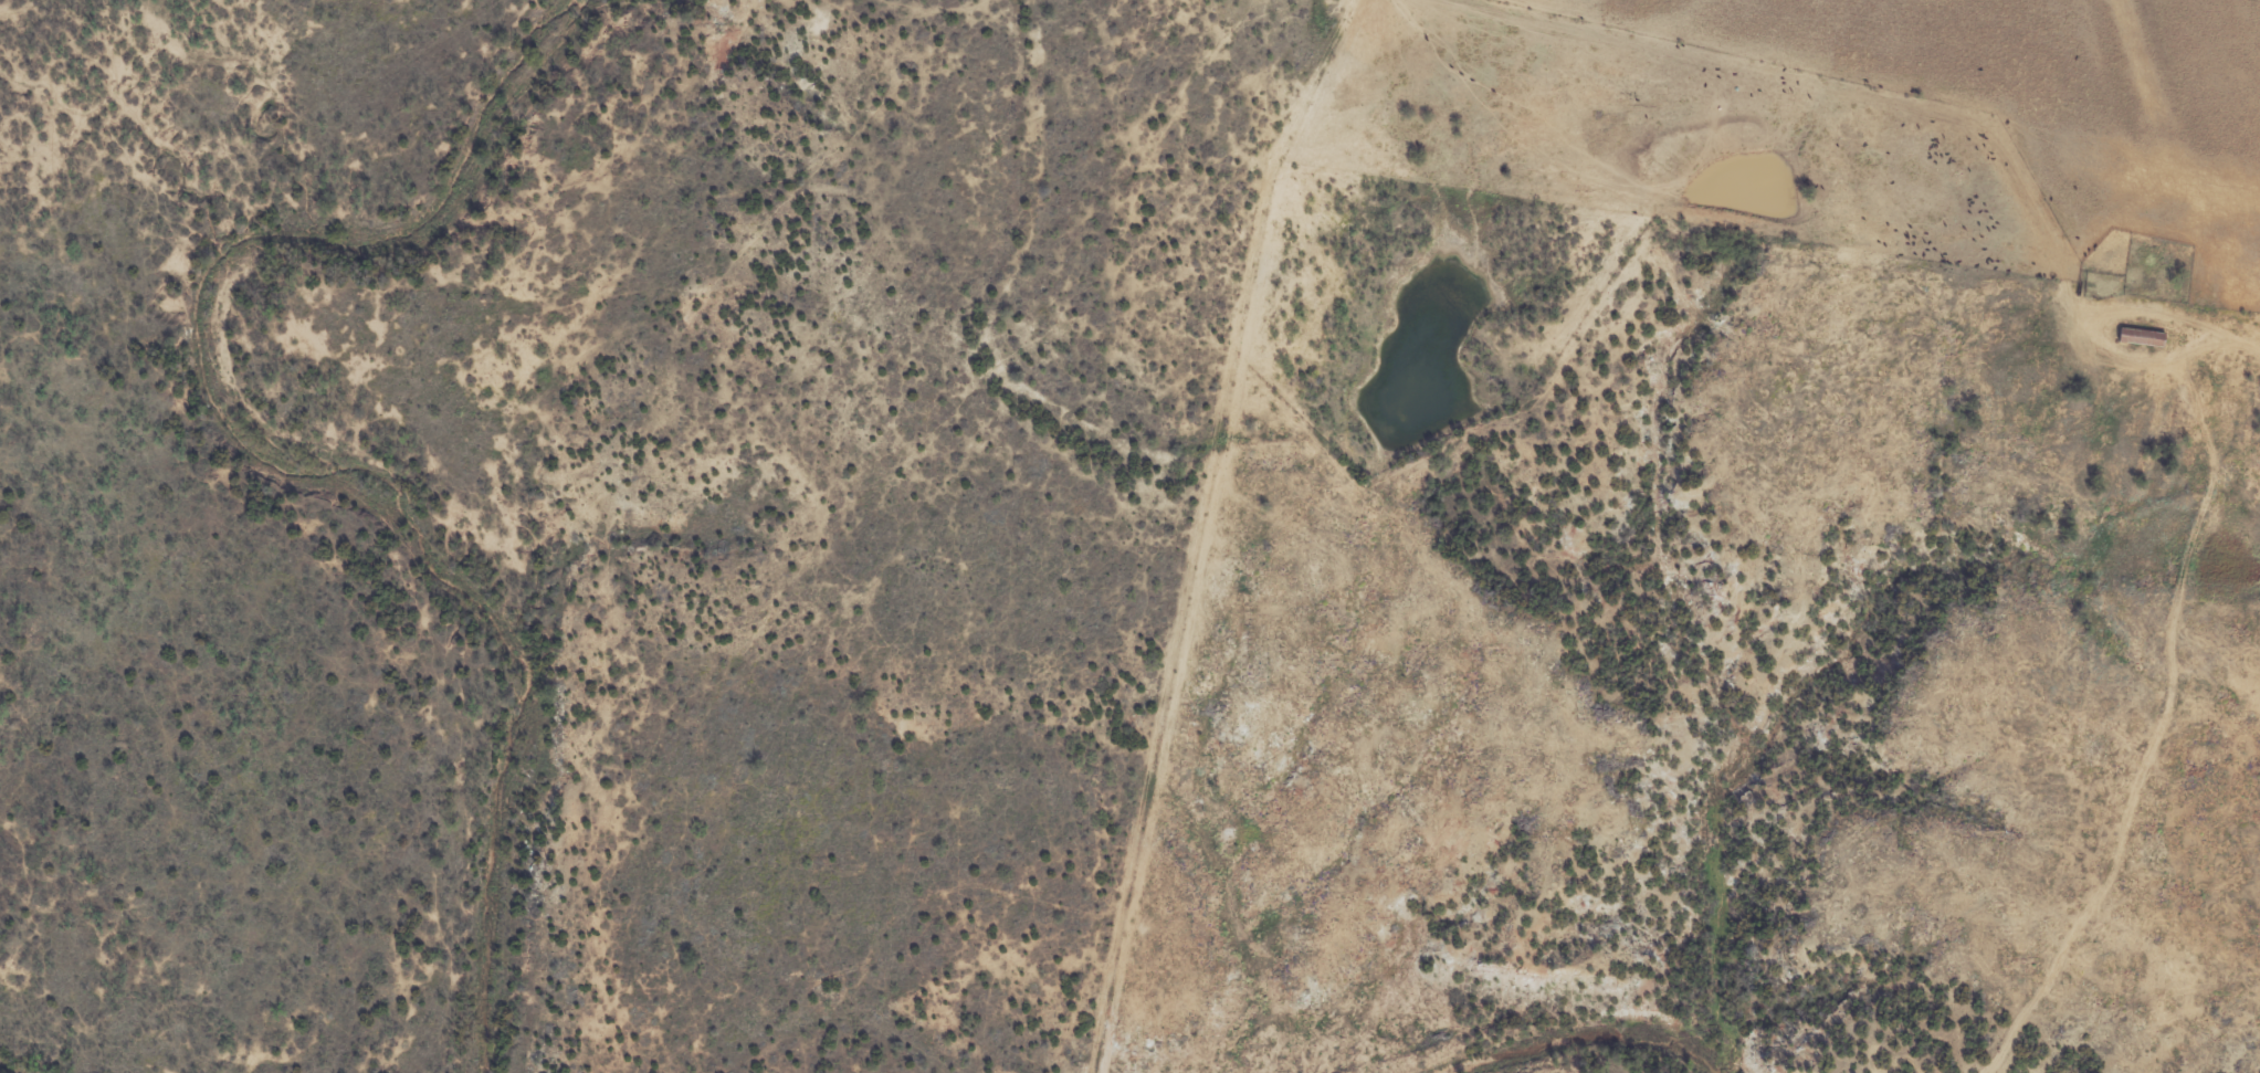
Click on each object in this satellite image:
building: (1931, 187)
building: (2142, 337)

